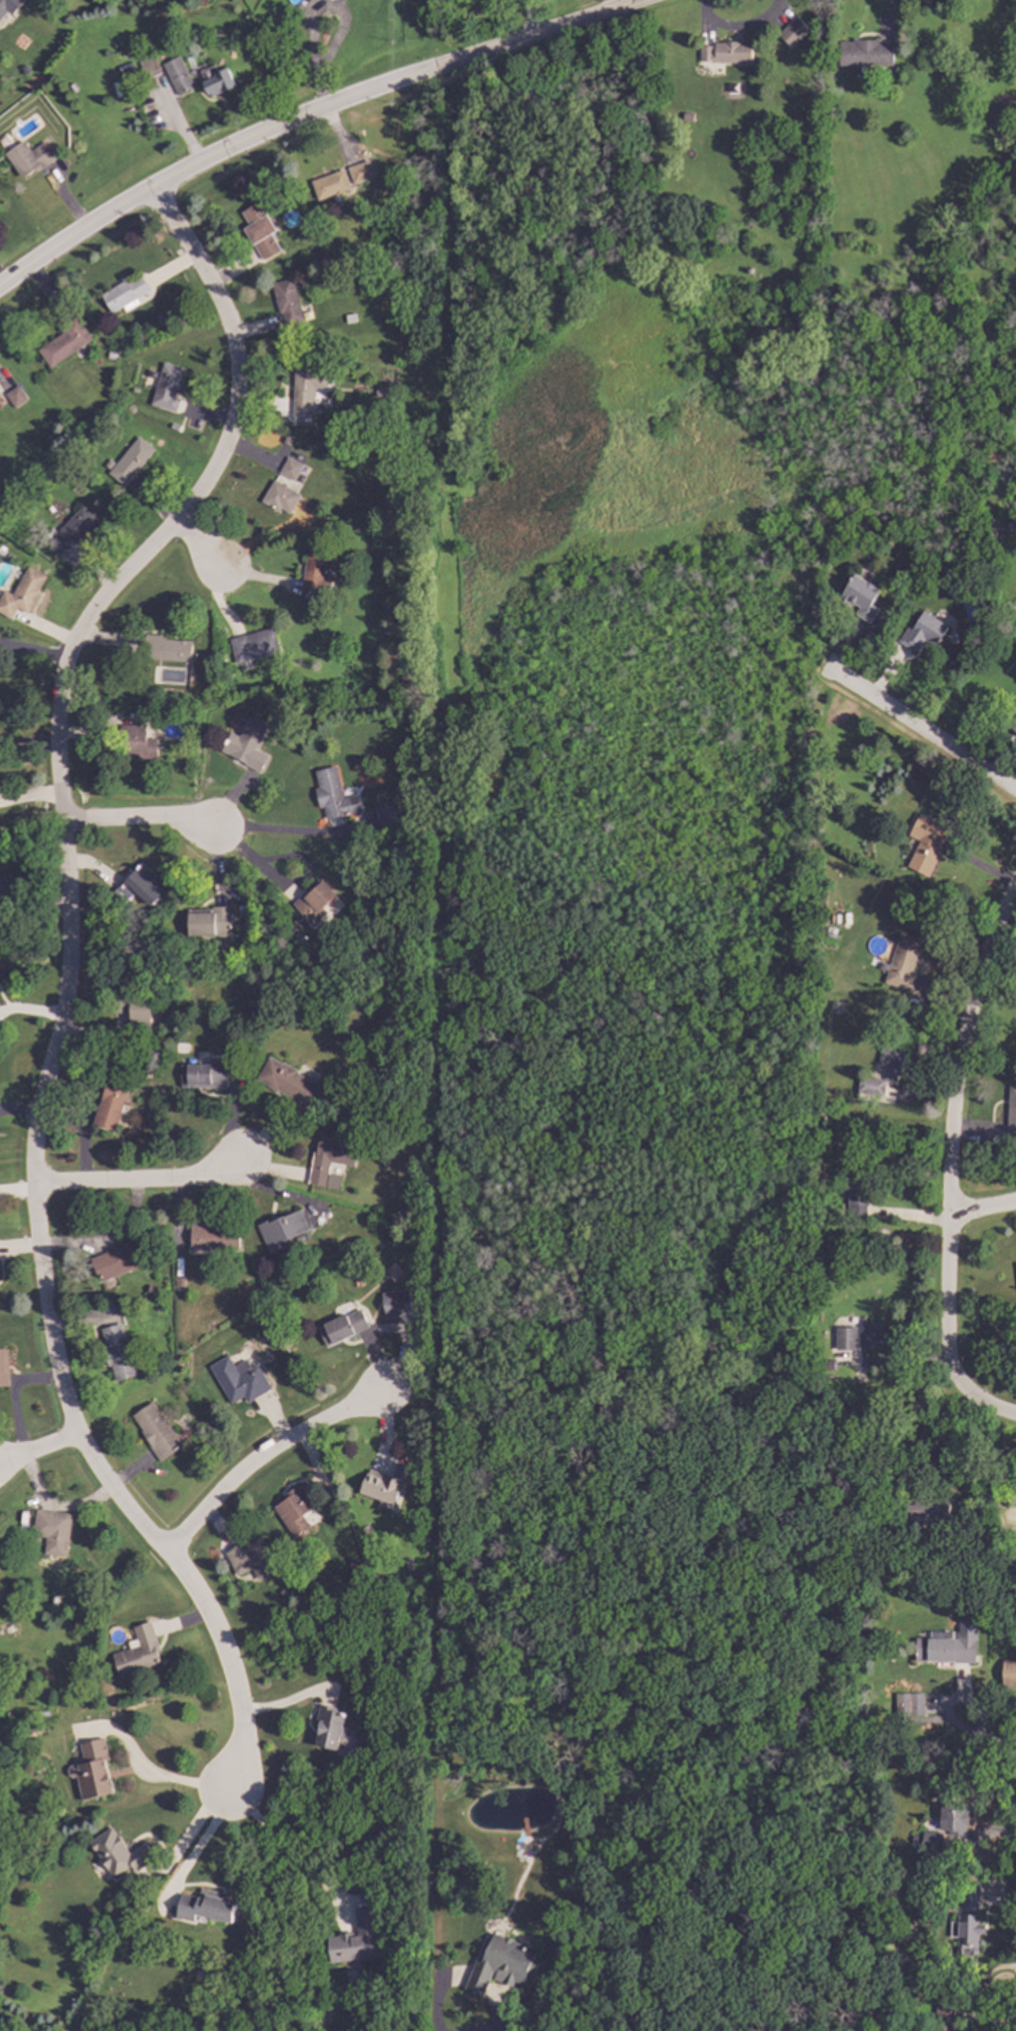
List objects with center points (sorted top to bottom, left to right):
building: (9, 6)
road: (316, 10)
building: (791, 31)
road: (534, 32)
building: (862, 51)
building: (726, 52)
building: (148, 68)
building: (946, 71)
building: (853, 74)
building: (177, 76)
building: (215, 80)
building: (954, 81)
building: (685, 115)
road: (206, 156)
building: (27, 158)
building: (359, 172)
building: (328, 185)
building: (258, 231)
building: (123, 295)
building: (286, 303)
building: (63, 343)
building: (166, 387)
building: (305, 388)
building: (15, 397)
building: (129, 462)
building: (289, 468)
building: (278, 497)
building: (402, 517)
building: (71, 530)
road: (197, 543)
building: (314, 572)
building: (20, 593)
building: (859, 596)
building: (922, 631)
building: (252, 646)
building: (165, 649)
building: (403, 680)
building: (1013, 725)
road: (923, 728)
building: (137, 743)
building: (245, 745)
road: (27, 746)
building: (917, 765)
building: (332, 795)
building: (384, 813)
road: (144, 818)
road: (287, 830)
building: (925, 843)
building: (140, 886)
building: (314, 901)
building: (842, 917)
building: (208, 922)
building: (903, 961)
road: (65, 979)
building: (836, 1006)
building: (139, 1014)
building: (893, 1059)
building: (204, 1075)
building: (288, 1084)
building: (869, 1085)
building: (110, 1106)
building: (1011, 1112)
road: (951, 1144)
building: (329, 1161)
road: (140, 1182)
building: (856, 1189)
road: (983, 1208)
building: (281, 1230)
building: (213, 1238)
road: (107, 1241)
building: (840, 1242)
building: (117, 1261)
building: (1009, 1274)
building: (396, 1303)
building: (342, 1328)
building: (871, 1335)
building: (843, 1337)
building: (117, 1352)
building: (827, 1364)
building: (3, 1367)
building: (238, 1380)
road: (1001, 1408)
building: (156, 1431)
road: (945, 1439)
road: (39, 1448)
road: (260, 1456)
building: (894, 1485)
building: (385, 1486)
building: (1014, 1495)
building: (932, 1510)
building: (52, 1531)
building: (250, 1558)
building: (930, 1587)
building: (953, 1645)
building: (138, 1652)
building: (1011, 1671)
building: (911, 1703)
road: (946, 1704)
building: (329, 1728)
road: (995, 1740)
building: (91, 1770)
road: (156, 1774)
building: (936, 1792)
building: (957, 1817)
road: (189, 1830)
building: (932, 1841)
road: (198, 1844)
road: (285, 1848)
building: (118, 1853)
building: (482, 1889)
building: (972, 1895)
building: (205, 1906)
building: (971, 1934)
building: (355, 1941)
building: (505, 1964)
building: (944, 1995)
building: (947, 2018)

